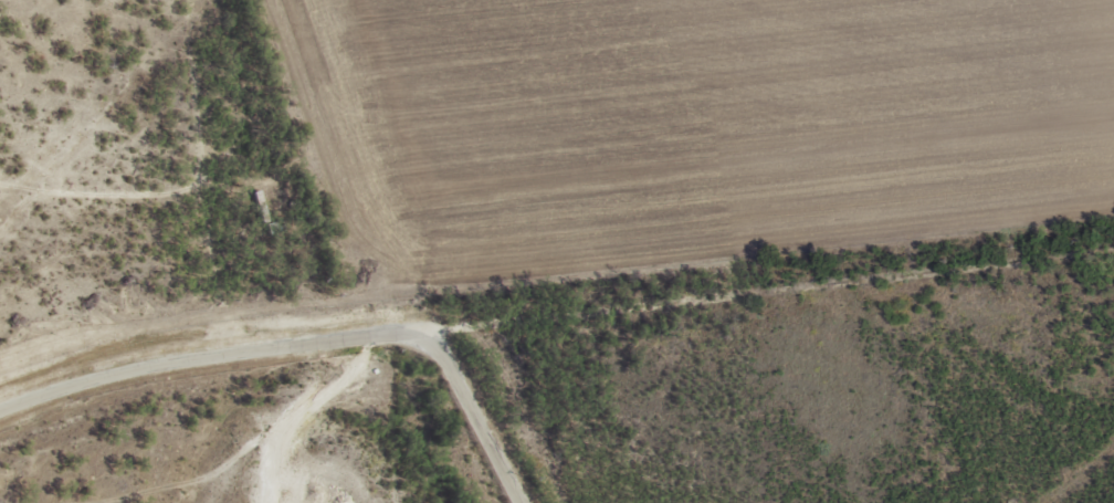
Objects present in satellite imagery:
road: (31, 186)
road: (747, 295)
road: (189, 371)
road: (421, 428)

